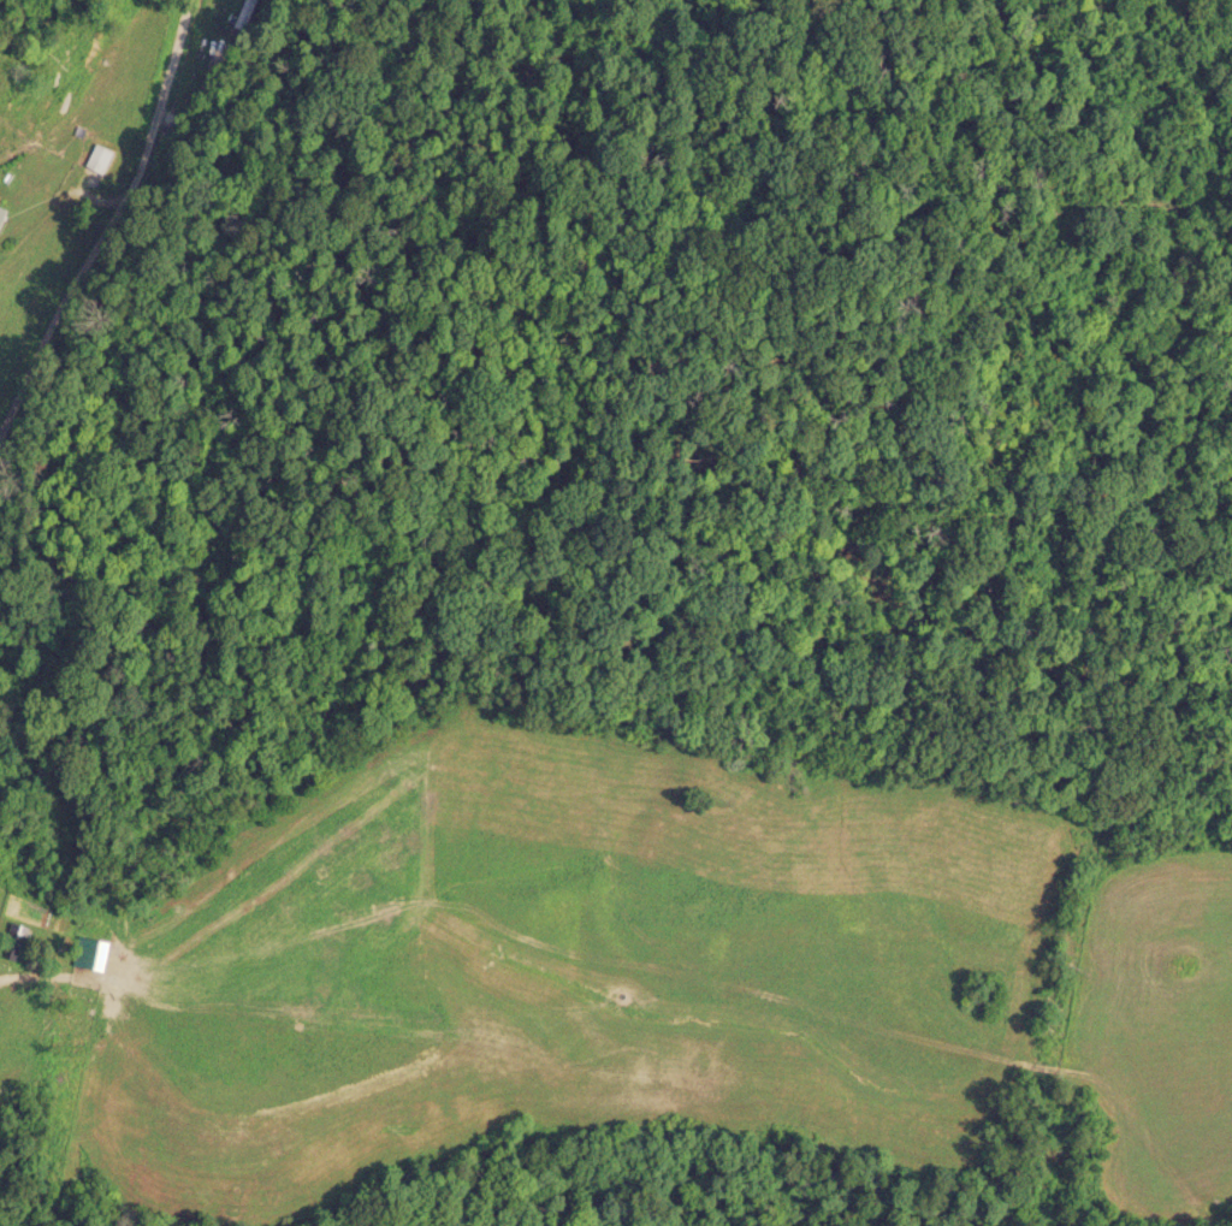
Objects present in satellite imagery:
building: (239, 13)
building: (101, 153)
building: (4, 213)
road: (106, 215)

